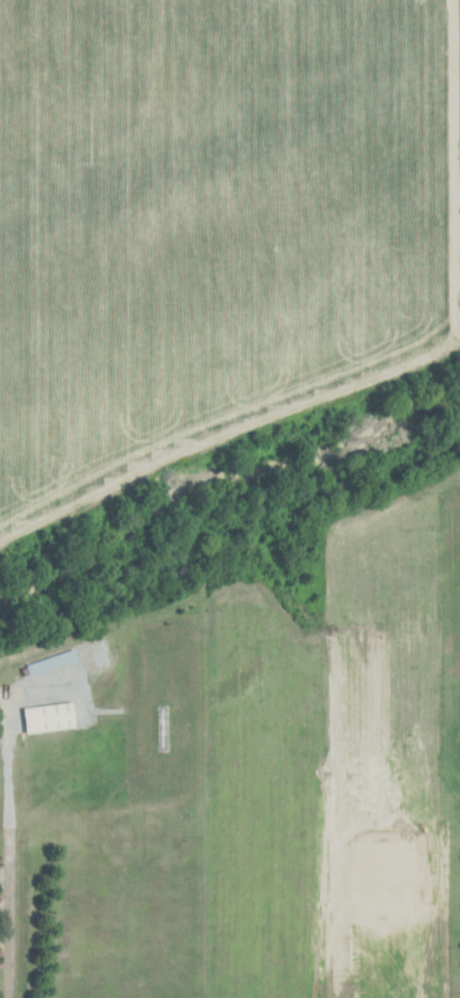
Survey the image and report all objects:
building: (50, 661)
building: (47, 716)
road: (5, 859)

